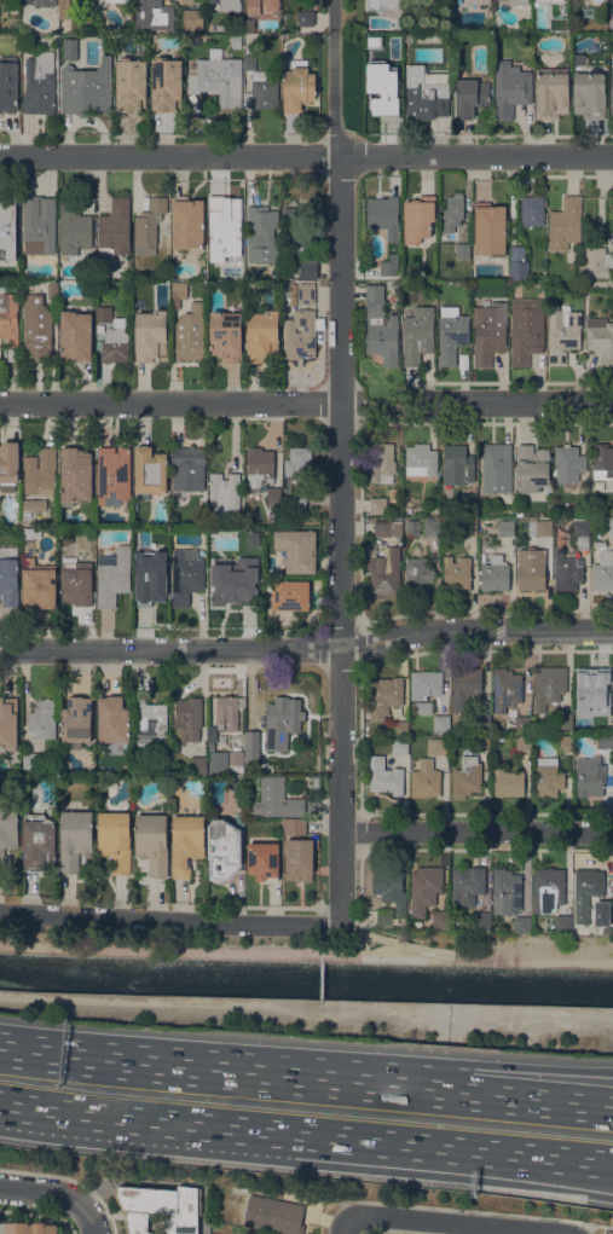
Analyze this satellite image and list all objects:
building: (117, 0)
building: (611, 0)
building: (187, 1)
building: (480, 1)
building: (516, 1)
building: (40, 2)
building: (86, 5)
building: (227, 5)
building: (271, 5)
building: (253, 7)
building: (386, 7)
building: (63, 8)
building: (154, 15)
building: (306, 17)
building: (191, 18)
building: (236, 41)
building: (70, 48)
building: (216, 77)
building: (39, 82)
building: (131, 83)
building: (167, 83)
building: (8, 85)
building: (297, 85)
building: (260, 86)
building: (381, 87)
building: (86, 88)
building: (510, 88)
building: (424, 92)
building: (551, 92)
building: (589, 94)
building: (612, 94)
building: (470, 97)
road: (306, 155)
building: (532, 210)
building: (453, 212)
building: (383, 214)
building: (222, 216)
building: (418, 218)
building: (565, 222)
building: (39, 224)
building: (189, 224)
building: (149, 225)
building: (8, 227)
building: (74, 227)
building: (115, 227)
building: (490, 228)
building: (262, 234)
building: (296, 243)
building: (462, 250)
building: (596, 261)
building: (391, 266)
building: (112, 270)
building: (517, 270)
building: (141, 273)
building: (612, 285)
building: (52, 290)
building: (303, 291)
building: (178, 292)
building: (103, 313)
building: (8, 317)
building: (380, 326)
building: (36, 328)
building: (526, 329)
building: (189, 332)
building: (488, 332)
building: (300, 334)
building: (451, 334)
building: (150, 335)
building: (262, 335)
building: (418, 335)
building: (562, 335)
building: (76, 336)
building: (226, 336)
building: (600, 338)
building: (116, 342)
building: (8, 353)
road: (306, 402)
building: (421, 459)
road: (340, 460)
building: (602, 462)
building: (8, 463)
building: (297, 463)
building: (381, 463)
building: (568, 463)
building: (457, 464)
building: (259, 468)
building: (496, 468)
building: (532, 468)
building: (150, 470)
building: (187, 470)
building: (40, 471)
building: (75, 474)
building: (114, 475)
building: (224, 492)
building: (274, 496)
building: (202, 500)
building: (297, 500)
building: (376, 504)
building: (31, 509)
building: (519, 511)
building: (611, 526)
building: (388, 527)
building: (412, 527)
building: (432, 527)
building: (469, 527)
building: (507, 527)
building: (539, 527)
building: (580, 532)
building: (69, 537)
building: (600, 543)
building: (162, 546)
building: (297, 550)
building: (531, 568)
building: (73, 569)
building: (383, 569)
building: (603, 570)
building: (567, 572)
building: (418, 573)
building: (456, 573)
building: (495, 573)
building: (186, 574)
building: (8, 575)
building: (37, 575)
building: (114, 575)
building: (235, 575)
building: (148, 584)
building: (290, 593)
road: (307, 650)
building: (591, 682)
building: (426, 684)
building: (549, 685)
building: (465, 686)
building: (507, 688)
building: (384, 695)
building: (423, 706)
building: (229, 712)
building: (77, 719)
building: (112, 719)
building: (187, 719)
building: (605, 719)
building: (482, 720)
building: (565, 720)
building: (42, 722)
building: (150, 722)
building: (282, 722)
building: (8, 723)
building: (441, 723)
building: (524, 723)
building: (400, 728)
building: (482, 741)
building: (605, 741)
building: (524, 742)
building: (565, 742)
building: (399, 746)
building: (438, 746)
building: (251, 748)
building: (236, 758)
building: (30, 760)
building: (215, 760)
building: (198, 764)
building: (386, 776)
building: (467, 776)
building: (590, 776)
building: (426, 778)
building: (548, 780)
building: (316, 781)
building: (508, 782)
building: (277, 799)
building: (294, 827)
road: (476, 830)
building: (7, 832)
building: (75, 838)
building: (115, 839)
building: (39, 841)
building: (152, 842)
building: (186, 842)
building: (224, 850)
building: (262, 859)
building: (299, 859)
building: (468, 886)
building: (391, 887)
building: (424, 888)
building: (548, 888)
building: (507, 891)
building: (582, 899)
building: (384, 916)
road: (168, 919)
building: (441, 919)
building: (481, 920)
building: (563, 923)
building: (522, 925)
road: (388, 937)
road: (221, 952)
road: (527, 956)
river: (306, 978)
road: (306, 1008)
road: (469, 1064)
road: (163, 1066)
road: (470, 1094)
road: (208, 1125)
road: (515, 1153)
road: (514, 1169)
road: (40, 1190)
building: (160, 1207)
road: (488, 1211)
building: (273, 1213)
road: (87, 1218)
road: (456, 1222)
road: (341, 1226)
building: (27, 1228)
building: (251, 1233)
building: (254, 1233)

